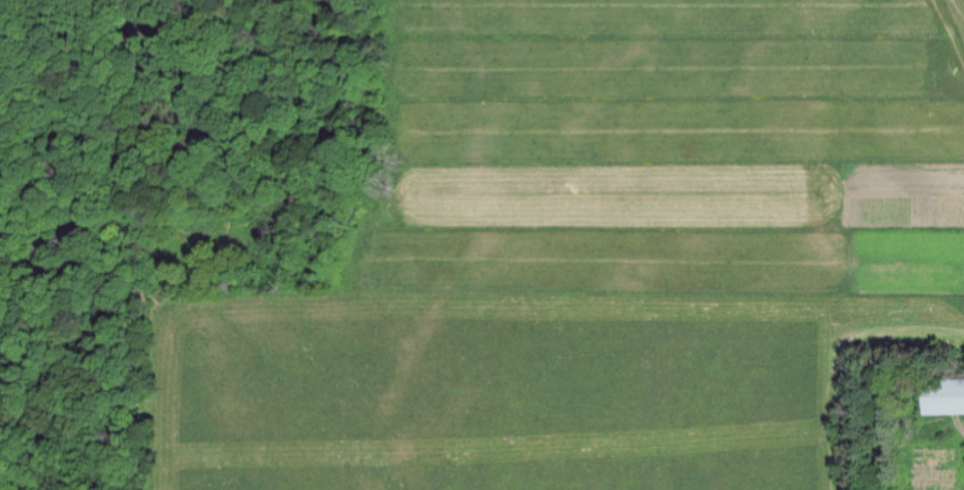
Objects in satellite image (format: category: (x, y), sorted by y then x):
building: (943, 399)

